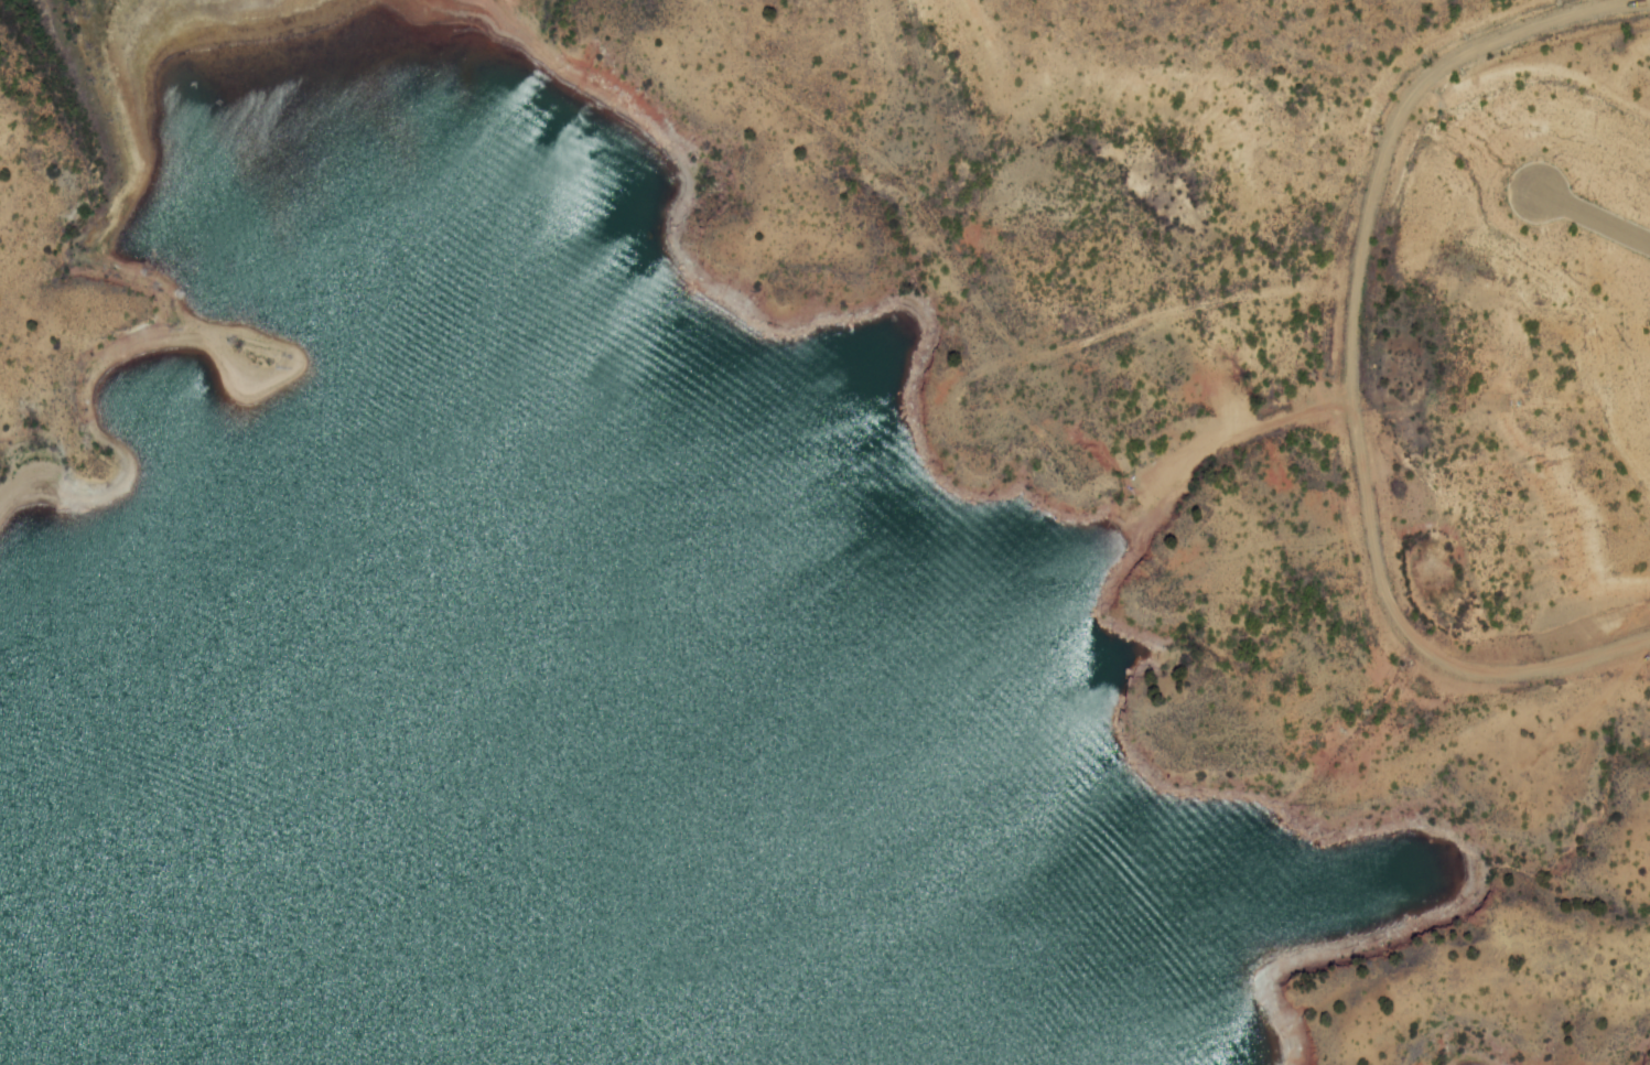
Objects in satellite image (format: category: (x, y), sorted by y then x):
road: (1600, 220)

